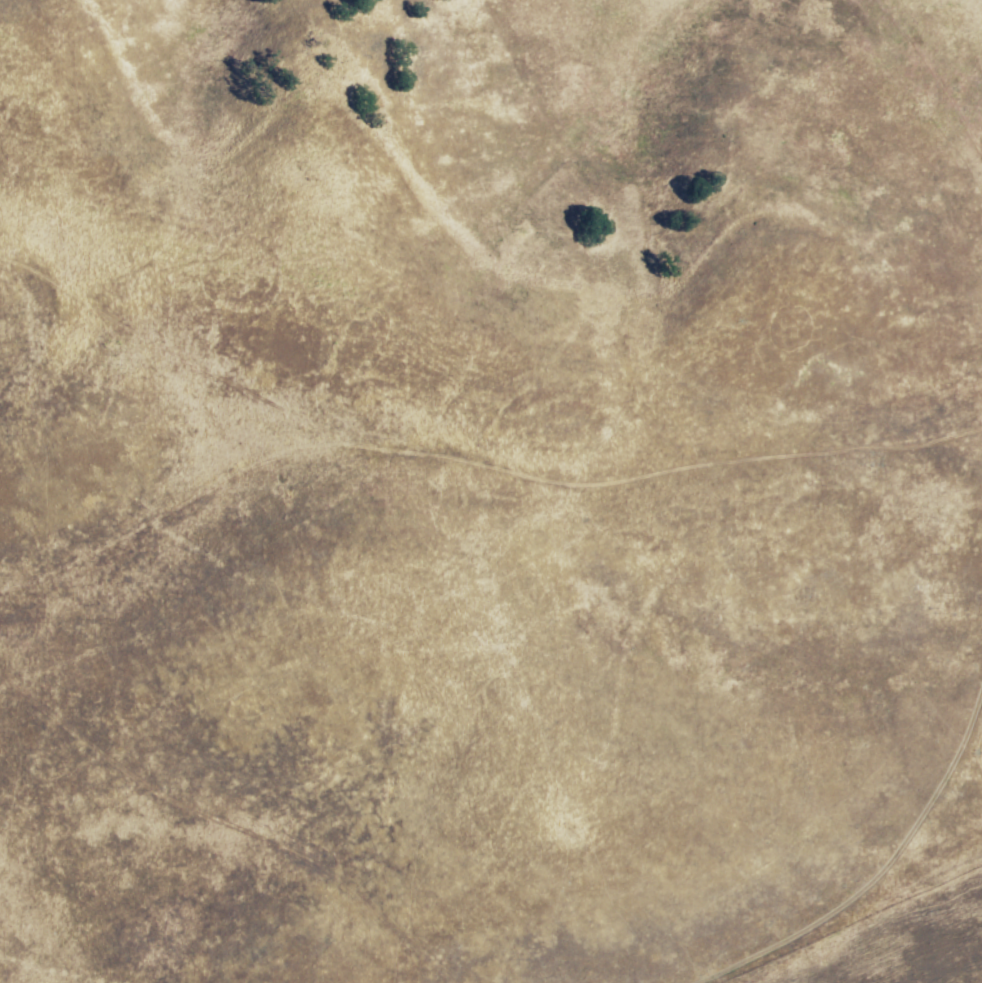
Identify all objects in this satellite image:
road: (889, 865)

